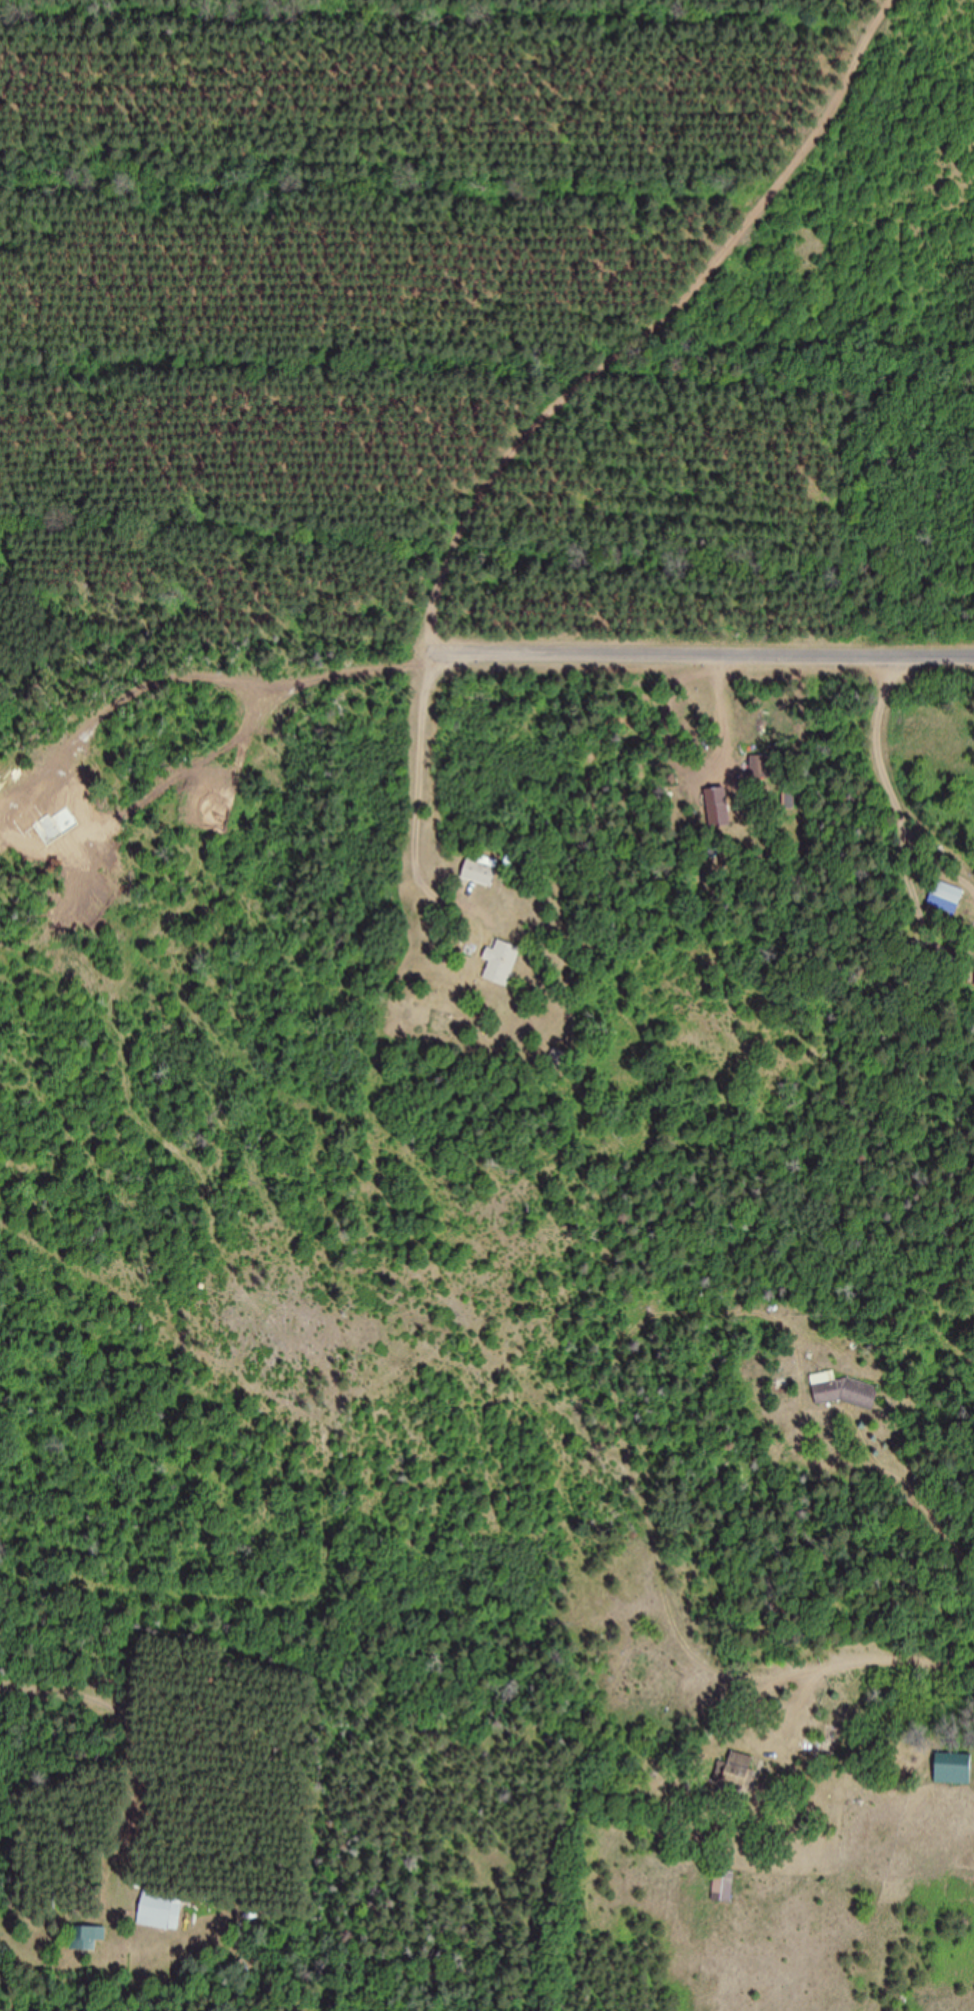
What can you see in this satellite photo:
road: (657, 324)
road: (705, 643)
building: (761, 767)
building: (720, 814)
building: (480, 873)
building: (948, 892)
building: (501, 962)
building: (558, 1059)
building: (741, 1297)
building: (847, 1391)
building: (955, 1768)
building: (735, 1771)
building: (724, 1885)
building: (160, 1909)
building: (87, 1938)

